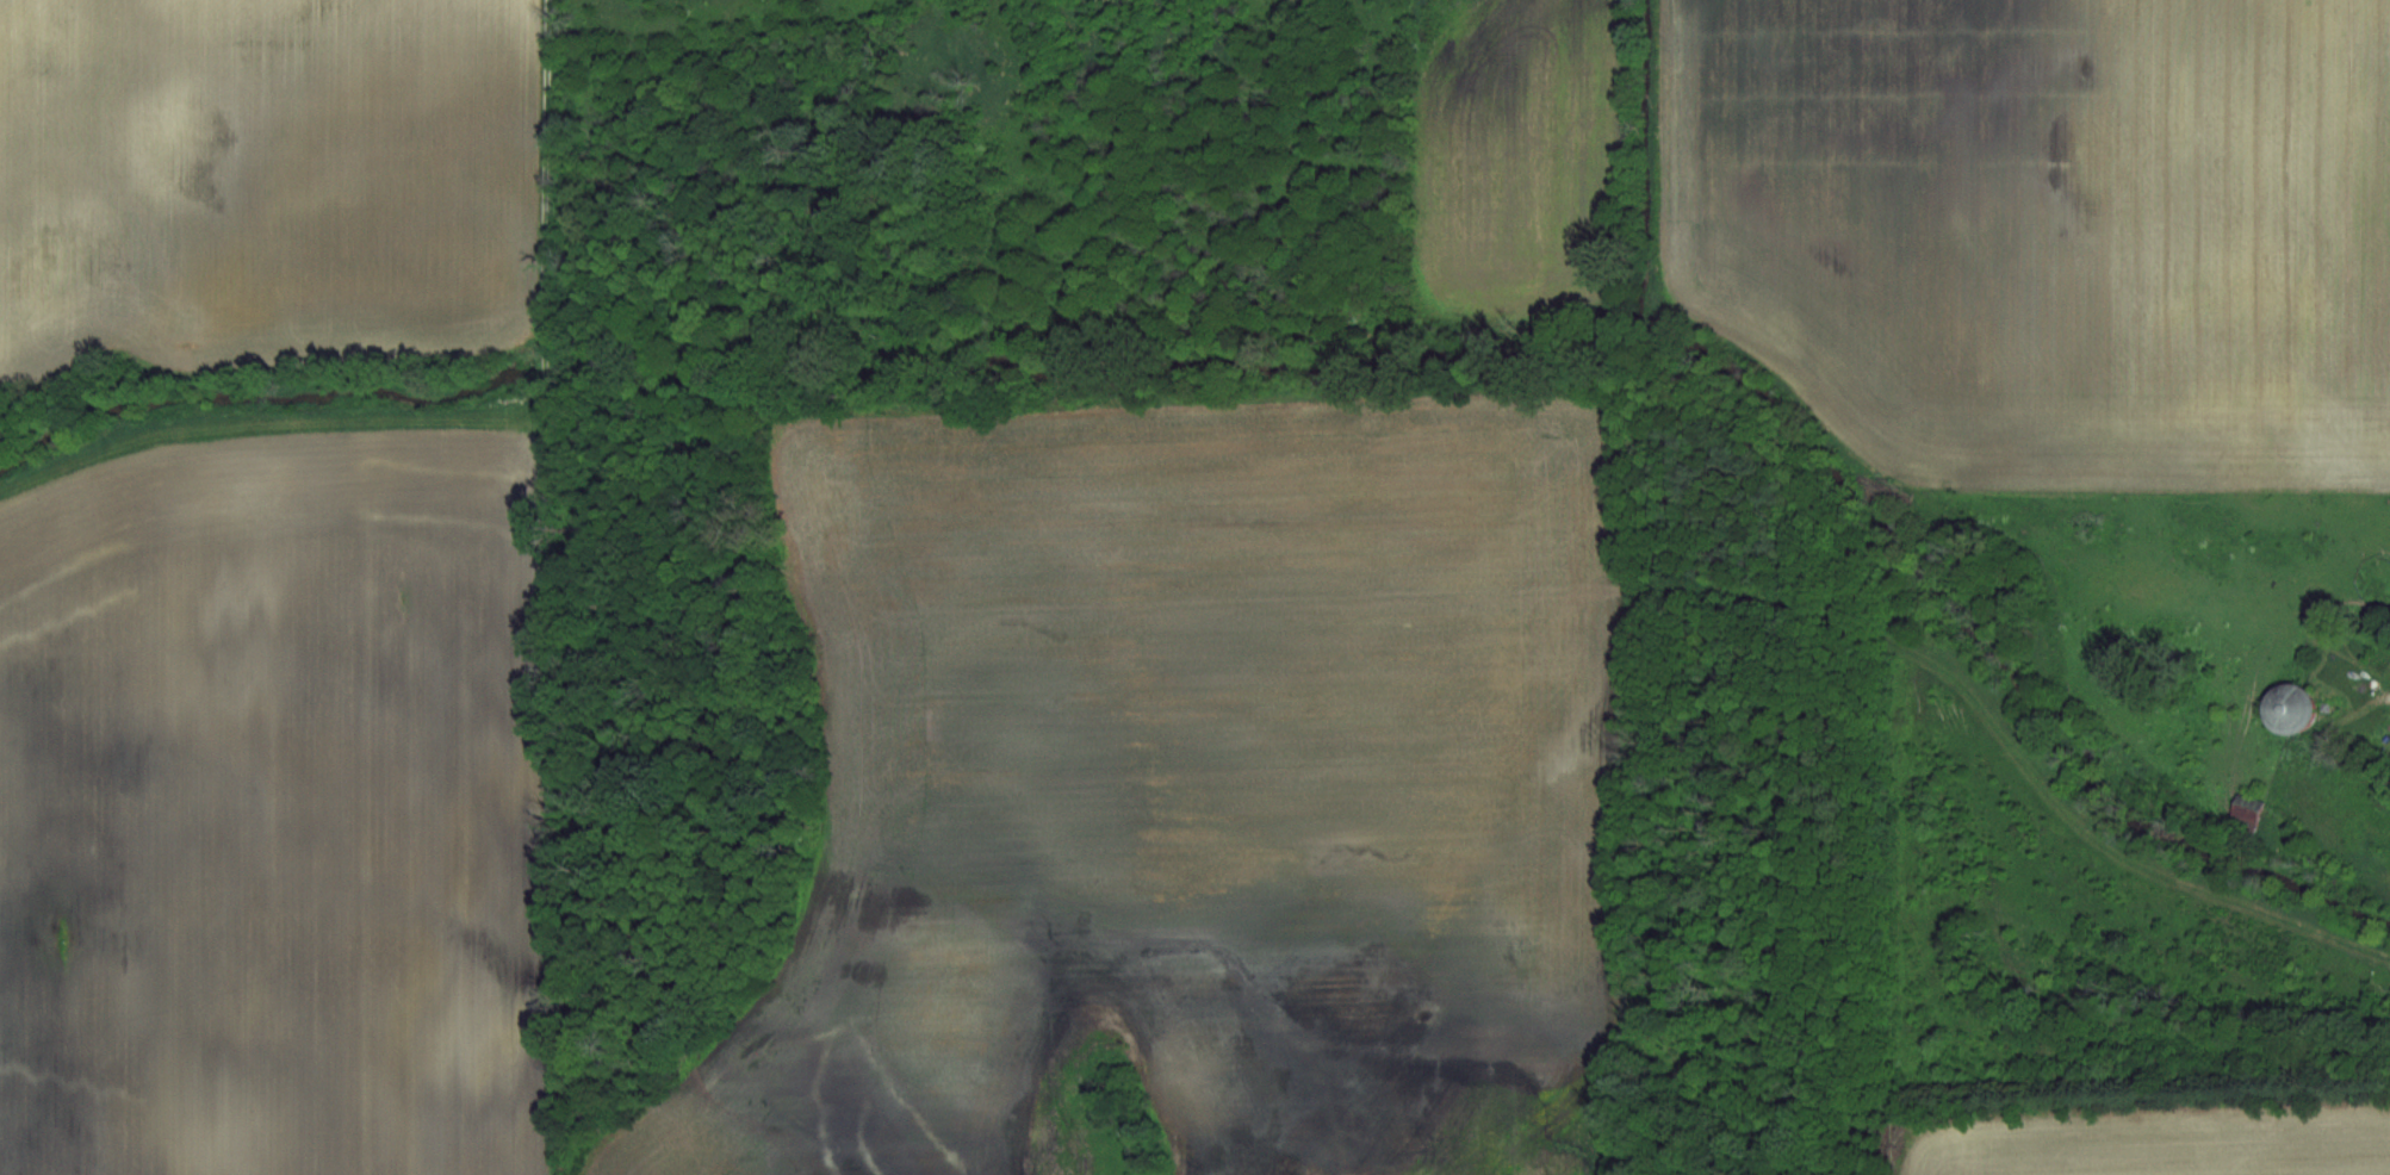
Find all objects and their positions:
building: (2292, 707)
building: (2246, 810)

